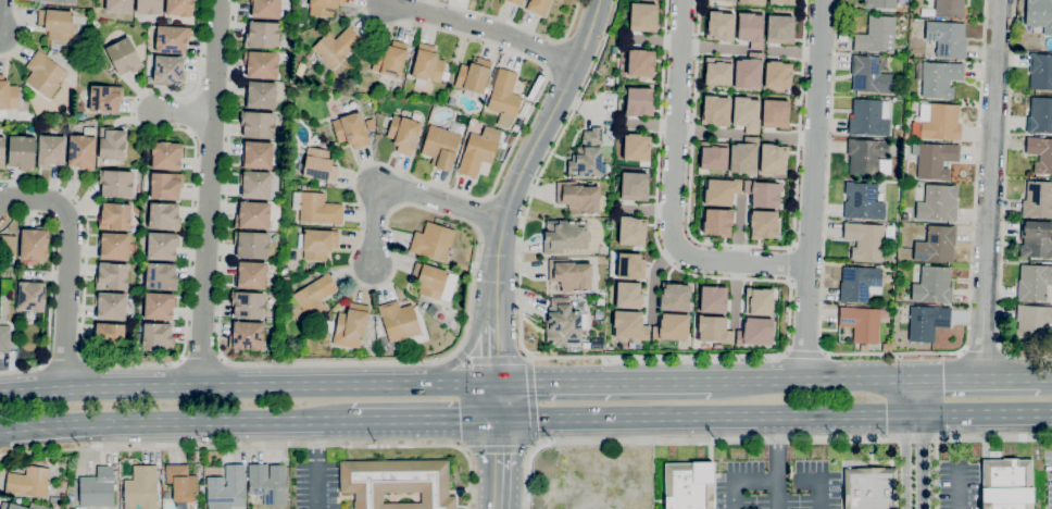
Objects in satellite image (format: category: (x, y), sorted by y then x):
building: (35, 0)
building: (724, 0)
building: (62, 1)
building: (516, 1)
building: (559, 1)
building: (751, 1)
building: (781, 2)
building: (879, 3)
building: (120, 5)
building: (148, 7)
building: (324, 7)
building: (538, 7)
building: (179, 8)
building: (949, 8)
building: (265, 9)
building: (1039, 14)
building: (642, 16)
building: (57, 24)
road: (513, 24)
building: (722, 26)
road: (484, 28)
building: (750, 28)
building: (781, 28)
road: (21, 33)
building: (262, 35)
building: (876, 35)
building: (947, 38)
building: (172, 39)
road: (655, 39)
building: (337, 46)
road: (710, 48)
road: (796, 53)
building: (312, 54)
building: (124, 57)
building: (390, 59)
building: (638, 62)
building: (261, 64)
building: (428, 65)
building: (168, 70)
building: (716, 72)
building: (749, 72)
building: (1040, 72)
building: (45, 74)
building: (778, 75)
building: (868, 75)
building: (474, 77)
building: (940, 79)
building: (900, 92)
building: (260, 95)
building: (7, 96)
building: (504, 97)
building: (638, 98)
building: (104, 99)
road: (180, 111)
building: (715, 111)
building: (746, 113)
building: (775, 115)
building: (1039, 115)
building: (869, 117)
road: (650, 122)
building: (937, 122)
building: (258, 124)
building: (370, 124)
building: (351, 131)
road: (707, 132)
building: (403, 134)
building: (898, 134)
building: (906, 135)
road: (540, 136)
building: (509, 139)
road: (790, 140)
building: (111, 144)
building: (441, 145)
building: (636, 146)
building: (83, 149)
building: (51, 150)
building: (2, 152)
building: (22, 152)
building: (1040, 153)
building: (476, 154)
building: (588, 154)
building: (165, 156)
building: (258, 156)
building: (867, 157)
building: (714, 158)
building: (743, 158)
building: (775, 160)
building: (935, 160)
building: (320, 165)
building: (115, 183)
building: (255, 184)
building: (165, 185)
building: (634, 187)
road: (989, 188)
building: (719, 189)
road: (813, 189)
road: (401, 190)
road: (672, 191)
road: (208, 193)
building: (763, 193)
building: (578, 197)
building: (1038, 199)
road: (1003, 200)
building: (862, 201)
building: (937, 203)
building: (316, 208)
road: (643, 208)
road: (440, 213)
building: (252, 215)
building: (114, 216)
building: (164, 216)
building: (715, 222)
building: (765, 225)
road: (740, 229)
building: (633, 232)
building: (565, 236)
building: (1036, 239)
building: (865, 240)
building: (433, 241)
building: (317, 243)
building: (34, 244)
building: (7, 245)
building: (251, 245)
building: (936, 245)
building: (115, 246)
building: (162, 246)
road: (742, 246)
road: (66, 265)
building: (629, 265)
building: (284, 271)
building: (569, 274)
building: (251, 275)
building: (112, 276)
building: (161, 276)
road: (654, 276)
building: (285, 280)
building: (434, 282)
building: (1034, 282)
building: (859, 284)
building: (932, 285)
road: (50, 286)
road: (736, 293)
road: (187, 294)
building: (629, 295)
building: (30, 296)
building: (674, 296)
building: (312, 298)
building: (710, 299)
building: (761, 299)
building: (248, 305)
building: (111, 306)
building: (159, 306)
building: (431, 309)
building: (398, 320)
building: (564, 322)
building: (927, 322)
building: (861, 323)
building: (1034, 323)
building: (627, 324)
building: (351, 325)
building: (327, 326)
building: (673, 328)
road: (498, 330)
building: (710, 331)
building: (756, 332)
building: (158, 336)
building: (246, 336)
building: (108, 337)
building: (4, 338)
road: (472, 343)
building: (586, 346)
building: (887, 347)
road: (806, 352)
road: (980, 352)
road: (892, 353)
road: (696, 355)
road: (491, 360)
road: (1048, 376)
road: (1012, 377)
road: (947, 378)
road: (812, 380)
road: (605, 381)
road: (249, 386)
road: (913, 396)
road: (499, 400)
road: (530, 402)
road: (982, 413)
road: (705, 415)
road: (425, 419)
traffic signals: (461, 419)
road: (334, 420)
road: (156, 421)
road: (761, 439)
road: (263, 447)
road: (499, 449)
road: (775, 461)
road: (913, 461)
road: (316, 463)
road: (499, 463)
road: (741, 480)
parking lot: (951, 480)
parking lot: (1047, 481)
building: (28, 482)
building: (267, 483)
building: (397, 483)
building: (1006, 484)
building: (181, 485)
building: (688, 485)
parking lot: (778, 485)
parking lot: (317, 486)
building: (97, 487)
road: (953, 487)
building: (141, 488)
building: (226, 488)
building: (869, 488)
road: (818, 494)
building: (55, 498)
building: (10, 505)

